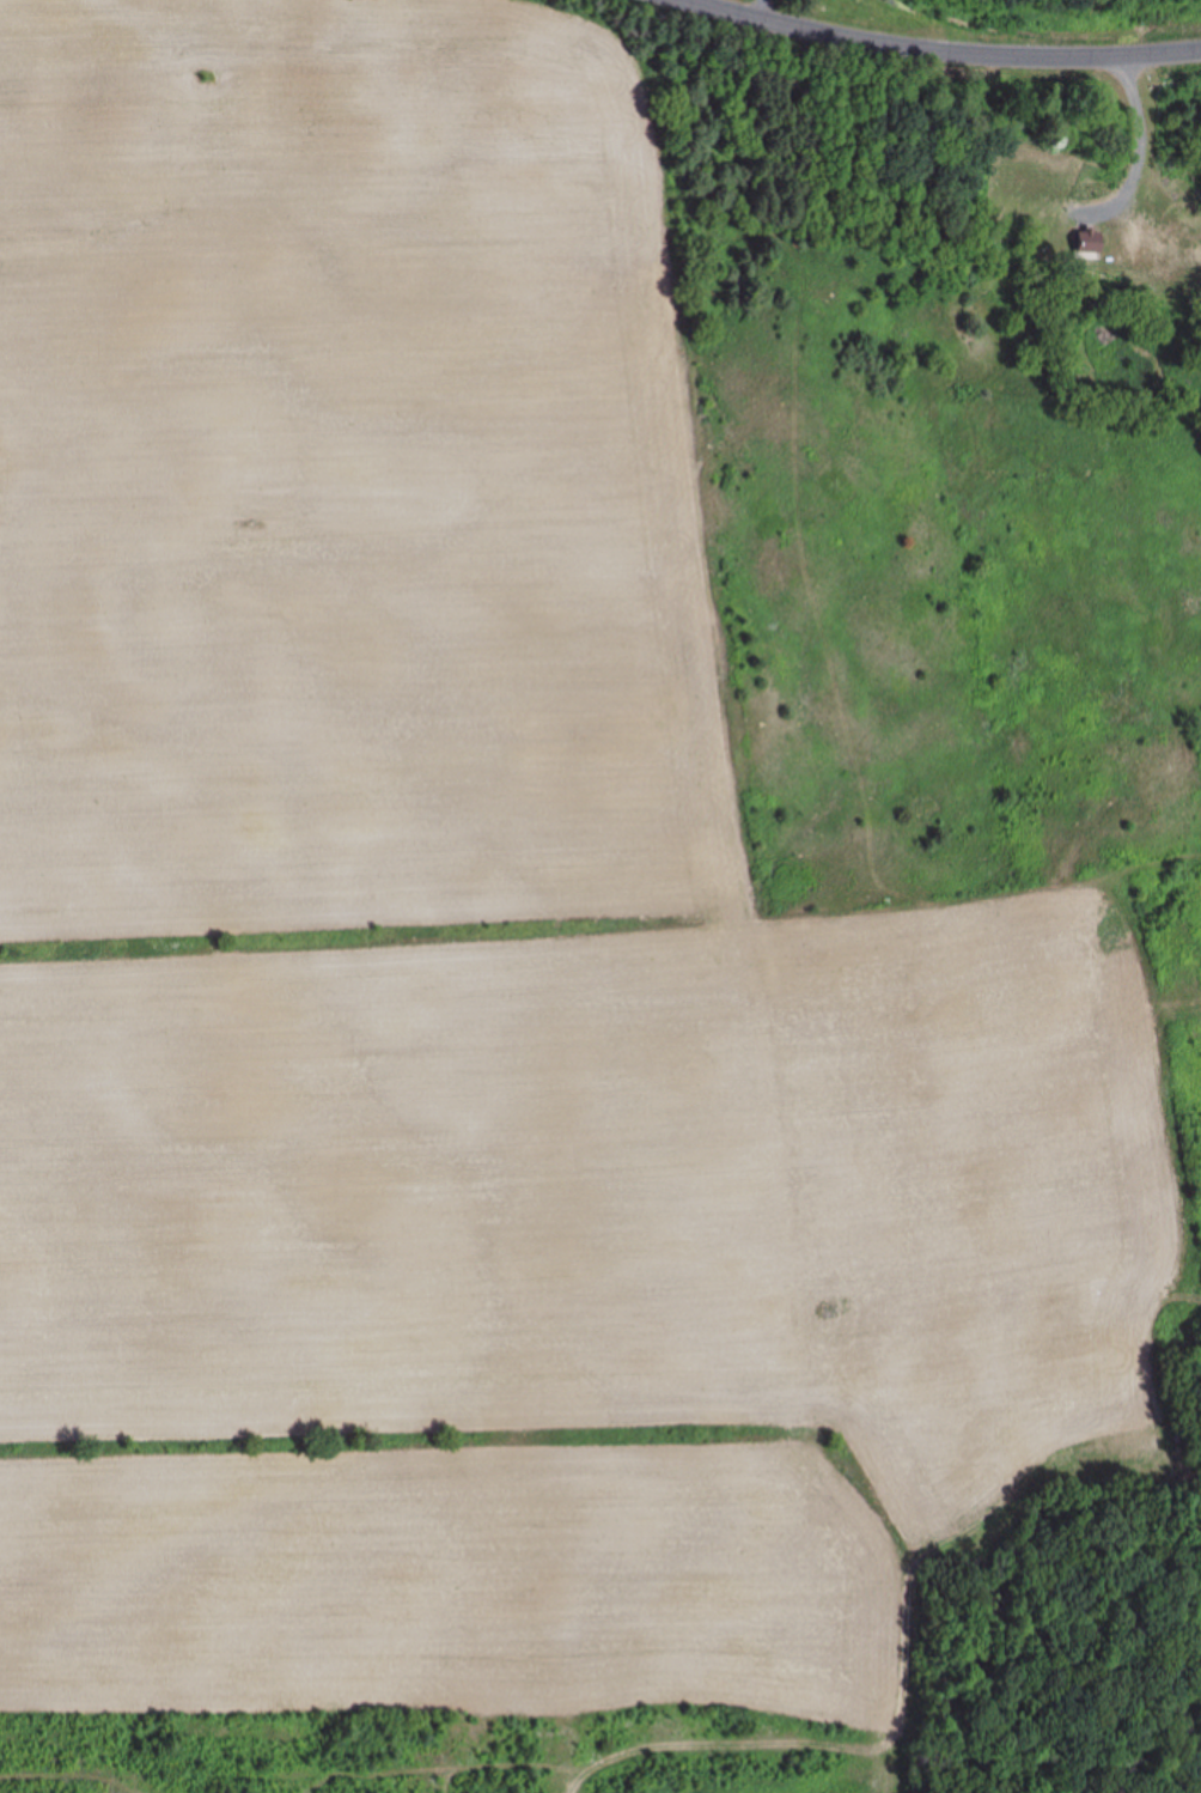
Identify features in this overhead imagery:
road: (952, 43)
road: (1134, 115)
building: (1028, 180)
building: (1168, 255)
crop: (544, 907)

